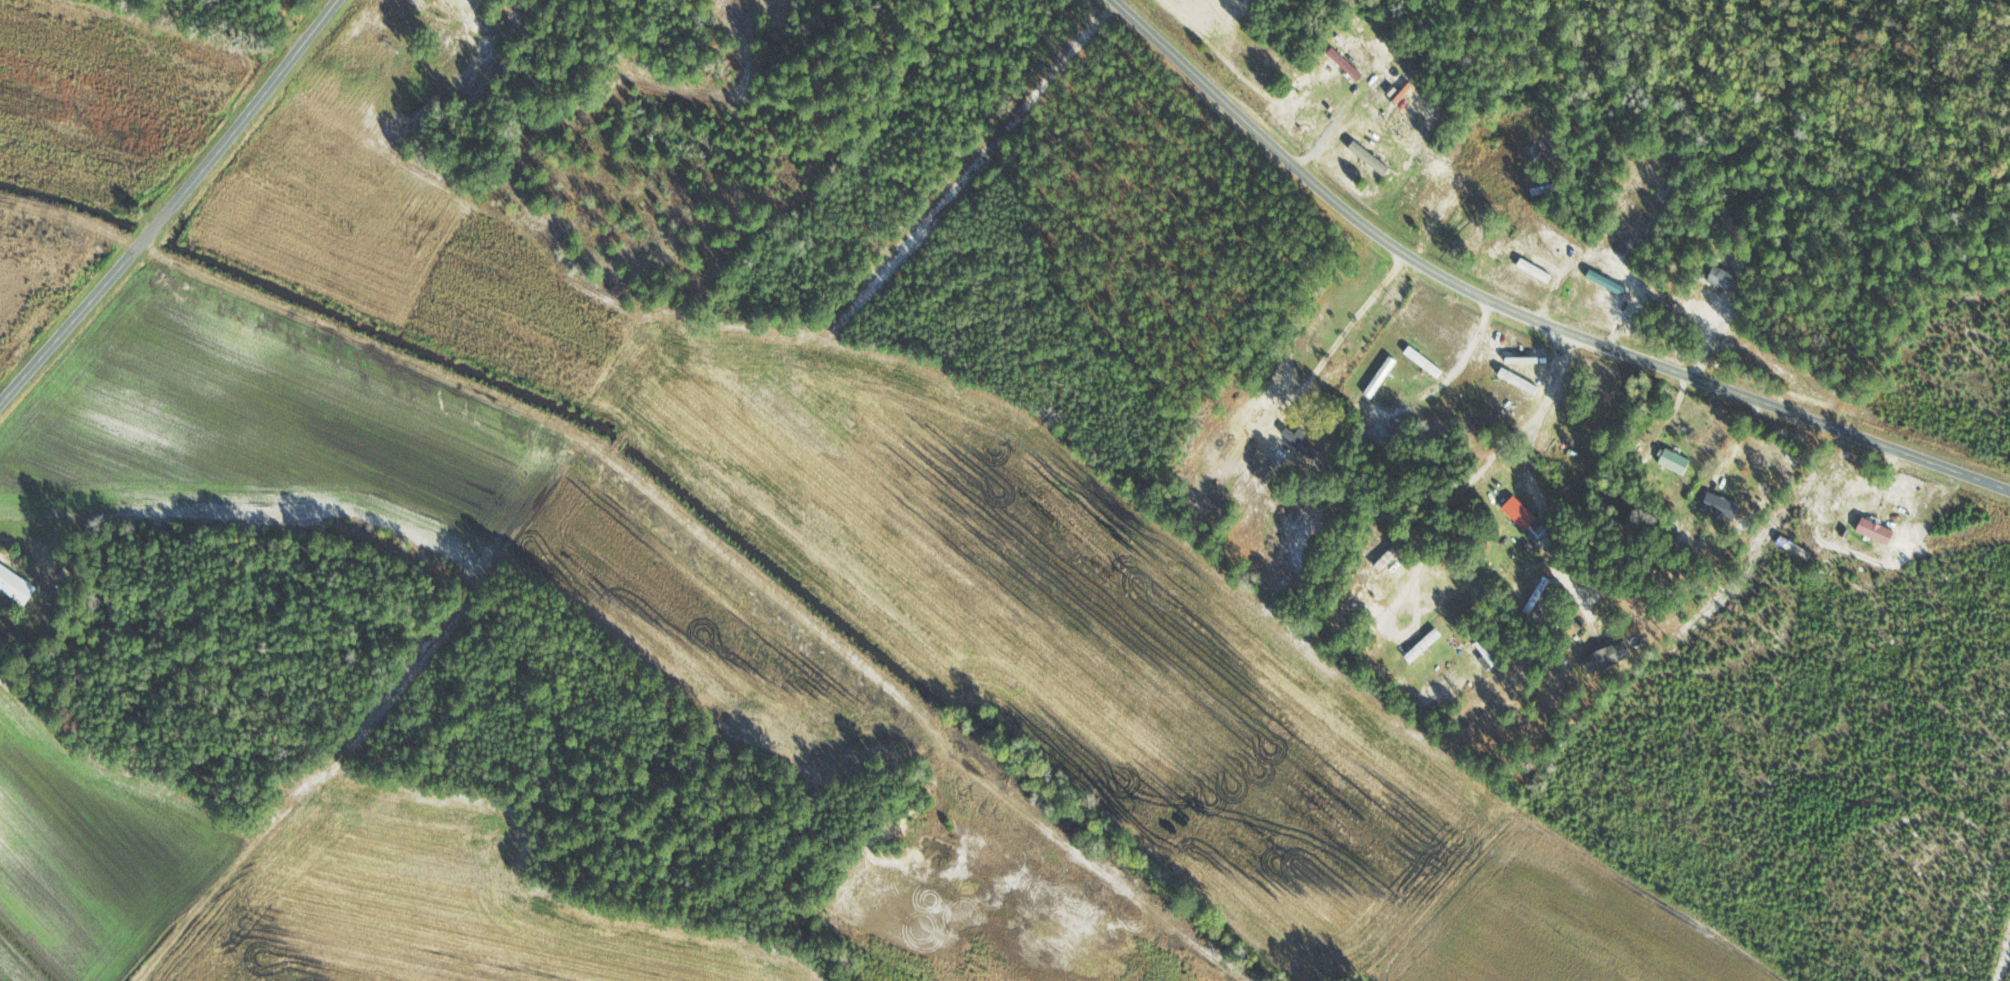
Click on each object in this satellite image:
building: (1344, 64)
road: (174, 204)
building: (1536, 271)
building: (1724, 279)
road: (1520, 318)
building: (1424, 362)
building: (1381, 378)
building: (1520, 382)
building: (1675, 461)
building: (1722, 506)
building: (1521, 514)
building: (1876, 531)
building: (1390, 557)
building: (16, 585)
building: (1538, 595)
building: (1423, 646)
building: (1486, 654)
building: (1609, 655)

